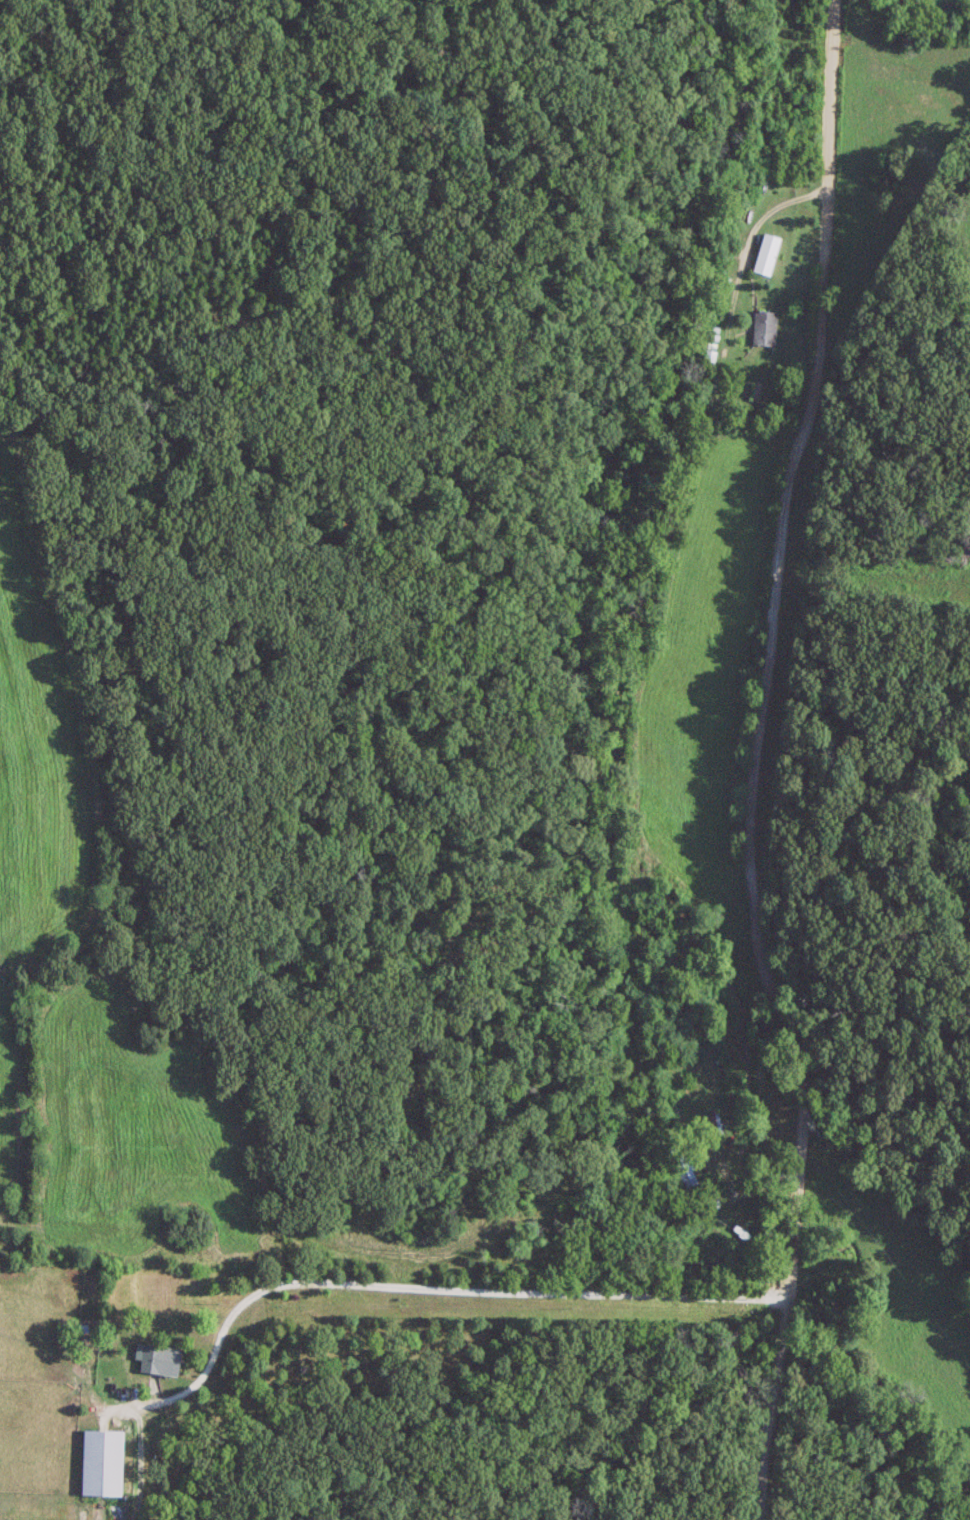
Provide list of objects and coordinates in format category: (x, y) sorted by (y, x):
building: (763, 255)
building: (761, 327)
crop: (41, 757)
road: (805, 760)
building: (710, 1124)
building: (682, 1171)
building: (727, 1223)
road: (433, 1287)
building: (151, 1359)
building: (93, 1463)

